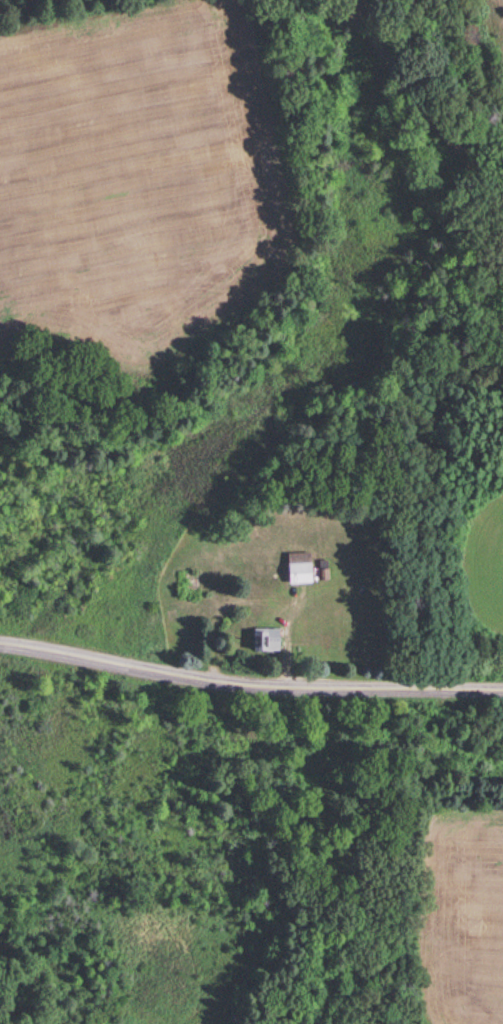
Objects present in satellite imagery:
road: (427, 102)
building: (300, 570)
building: (268, 641)
road: (248, 688)

